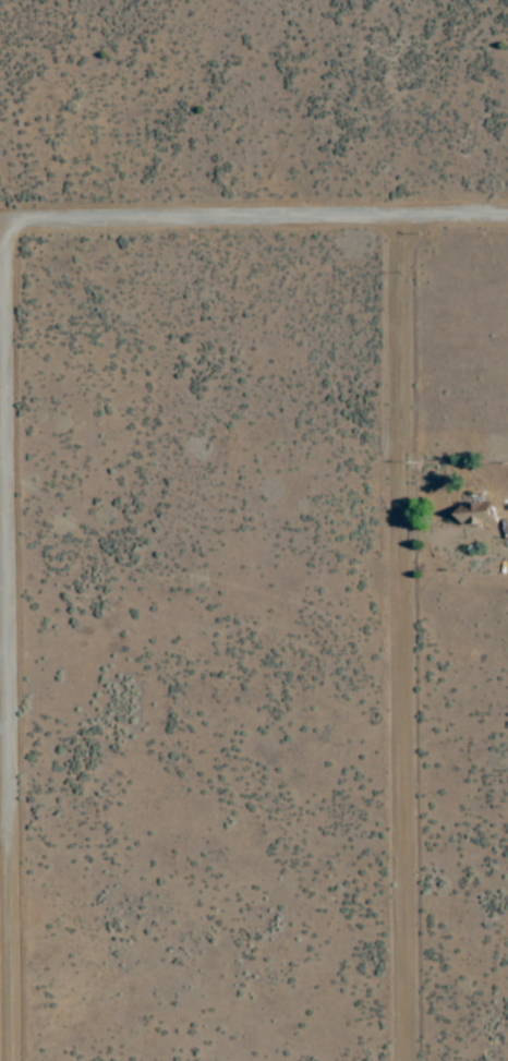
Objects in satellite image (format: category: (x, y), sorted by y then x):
road: (254, 219)
road: (12, 640)
road: (408, 640)

